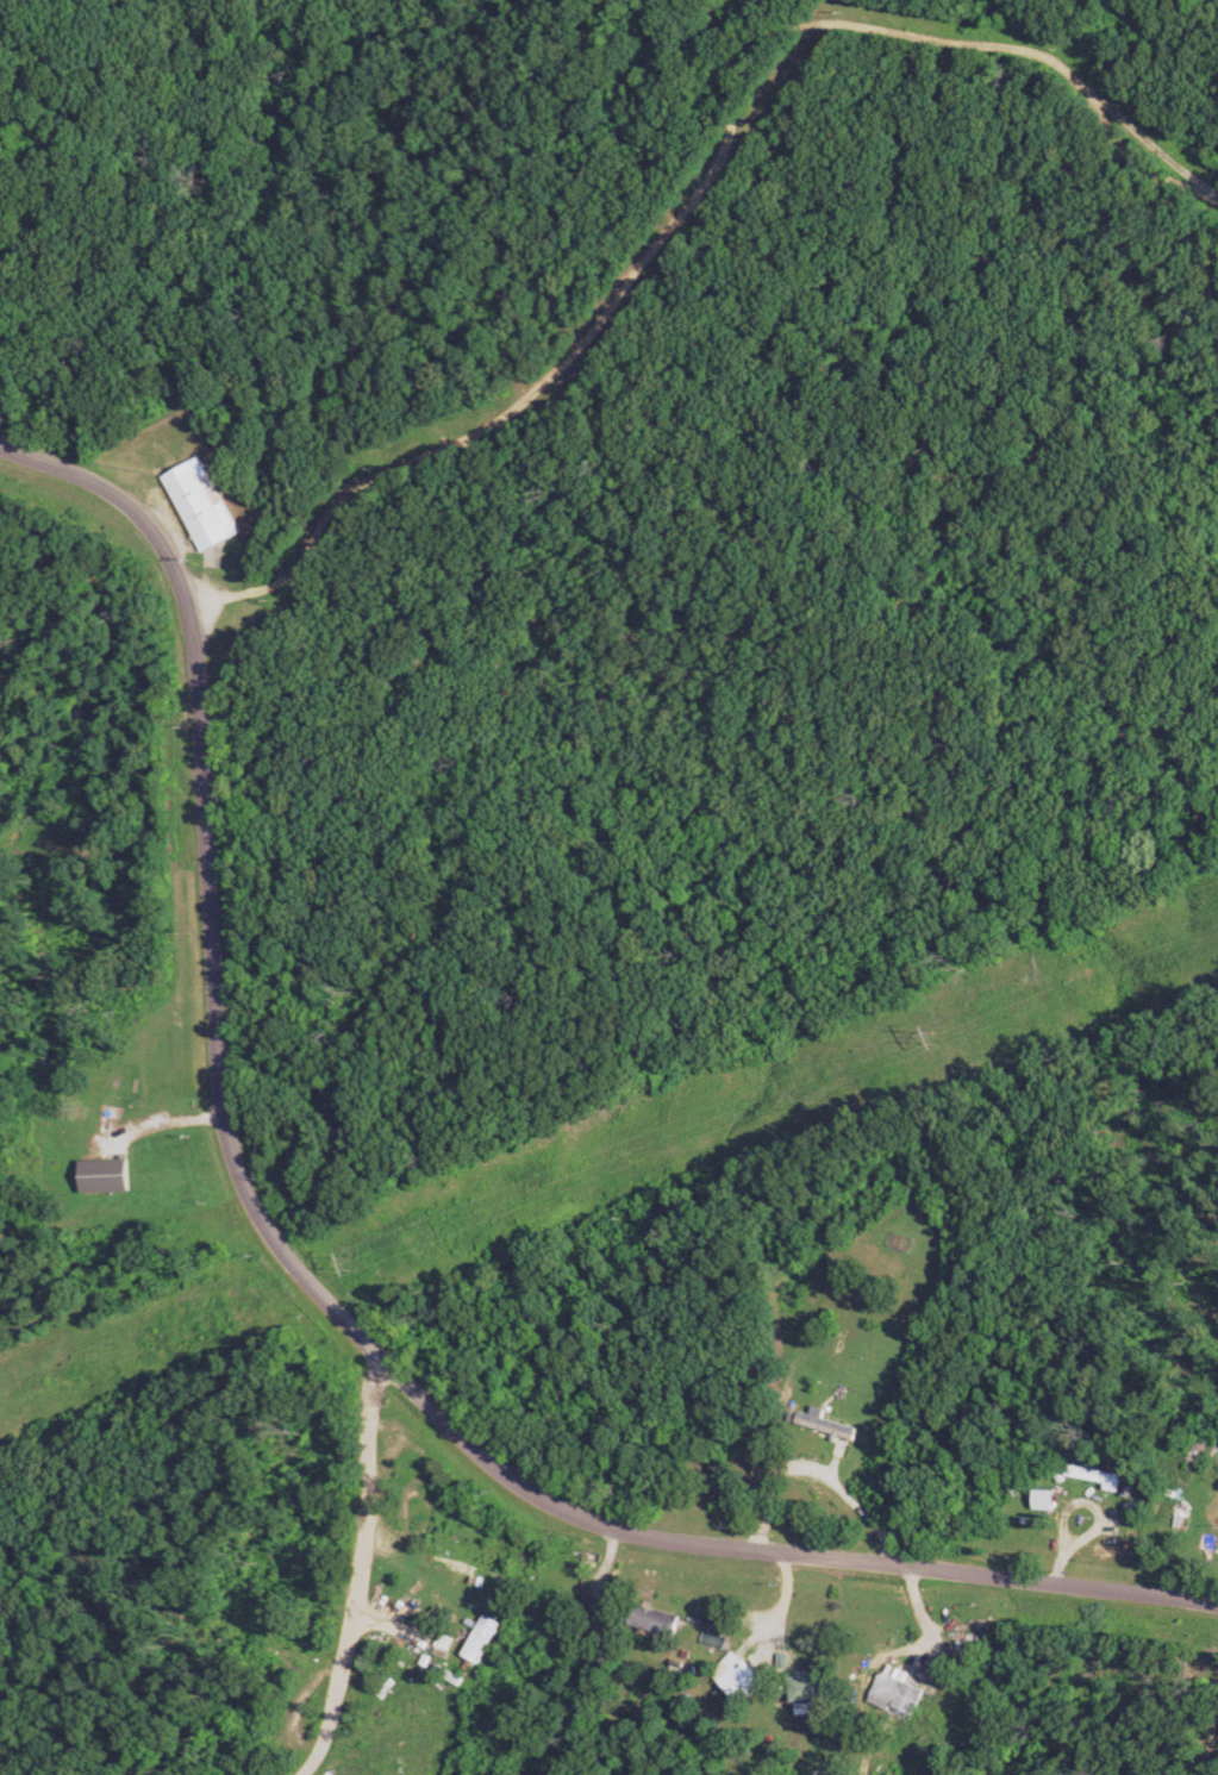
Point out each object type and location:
building: (206, 505)
road: (194, 900)
building: (100, 1177)
building: (157, 1179)
road: (143, 1248)
building: (1099, 1476)
road: (774, 1556)
road: (356, 1598)
building: (662, 1620)
building: (748, 1681)
building: (818, 1687)
building: (904, 1694)

